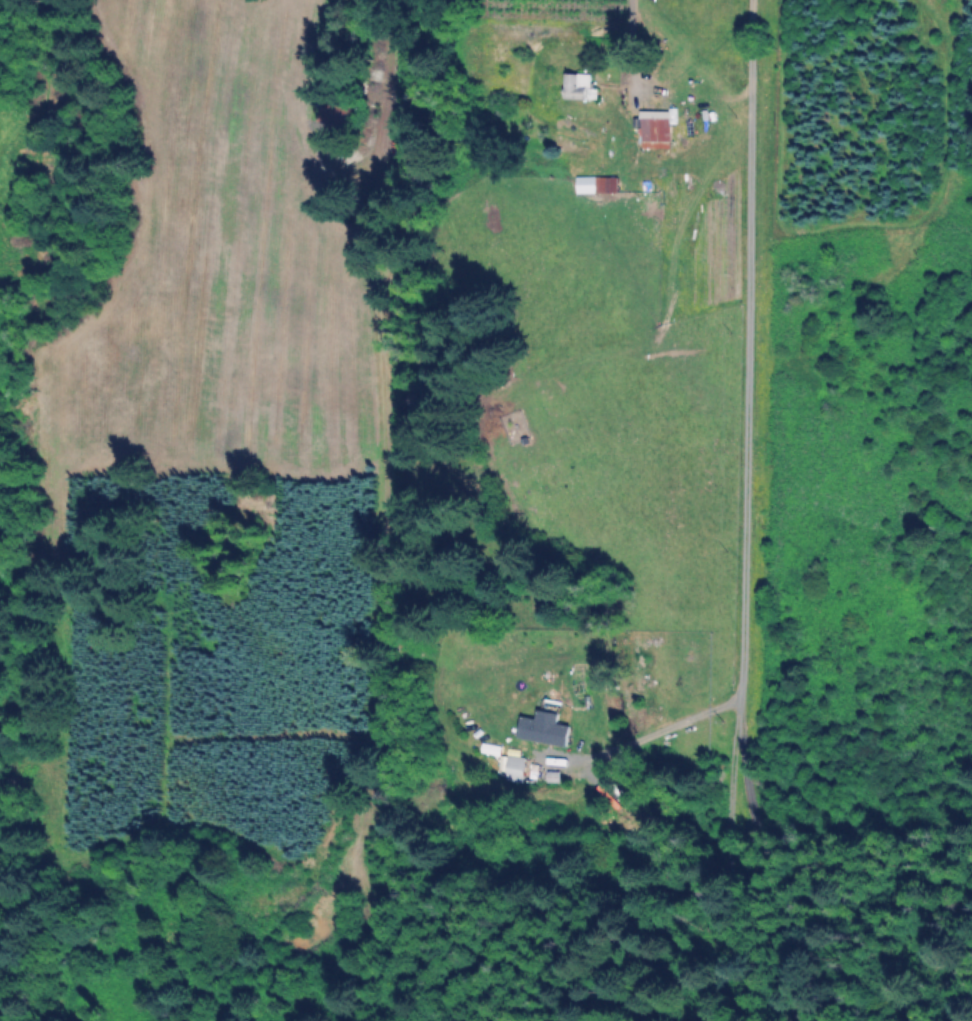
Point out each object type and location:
road: (635, 51)
building: (579, 86)
building: (336, 115)
building: (656, 132)
road: (744, 424)
building: (541, 736)
building: (512, 770)

